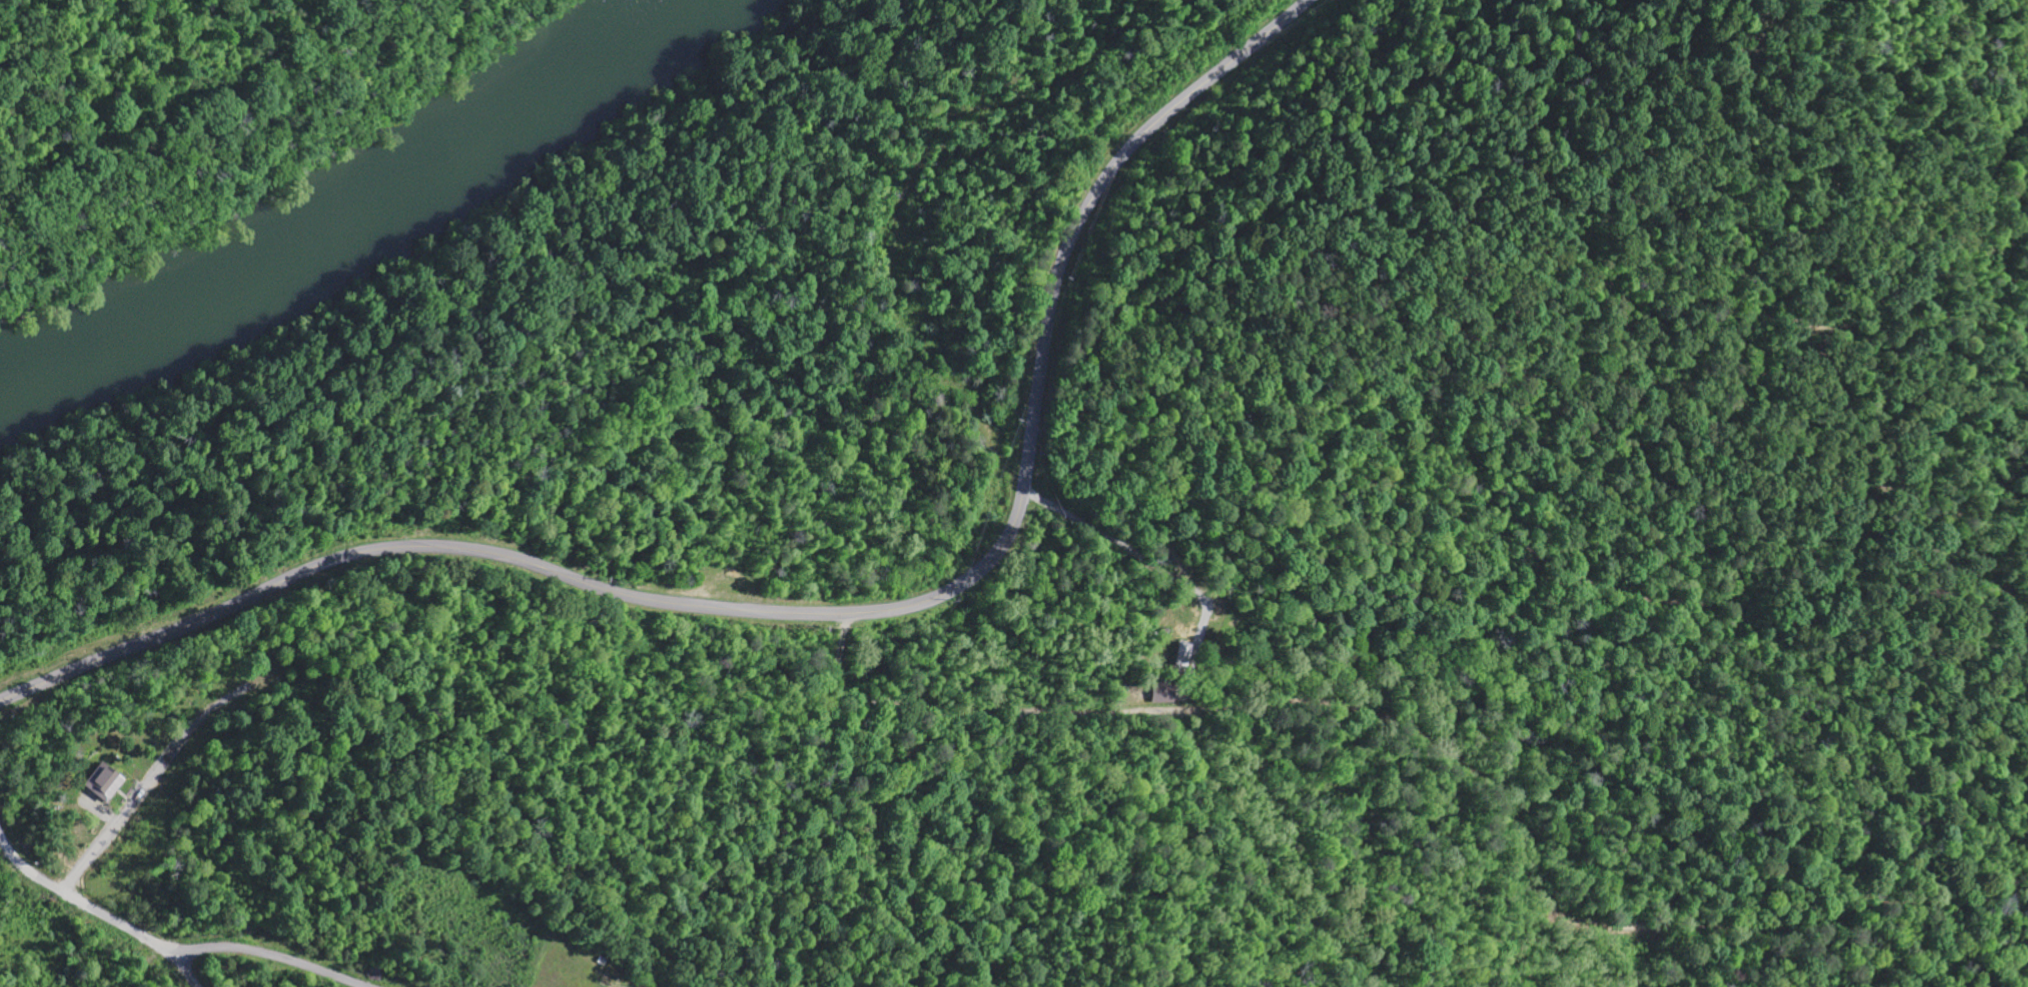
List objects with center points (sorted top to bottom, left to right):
river: (359, 217)
road: (814, 612)
building: (1164, 693)
road: (151, 772)
building: (106, 781)
road: (78, 899)
road: (273, 953)
road: (183, 966)

